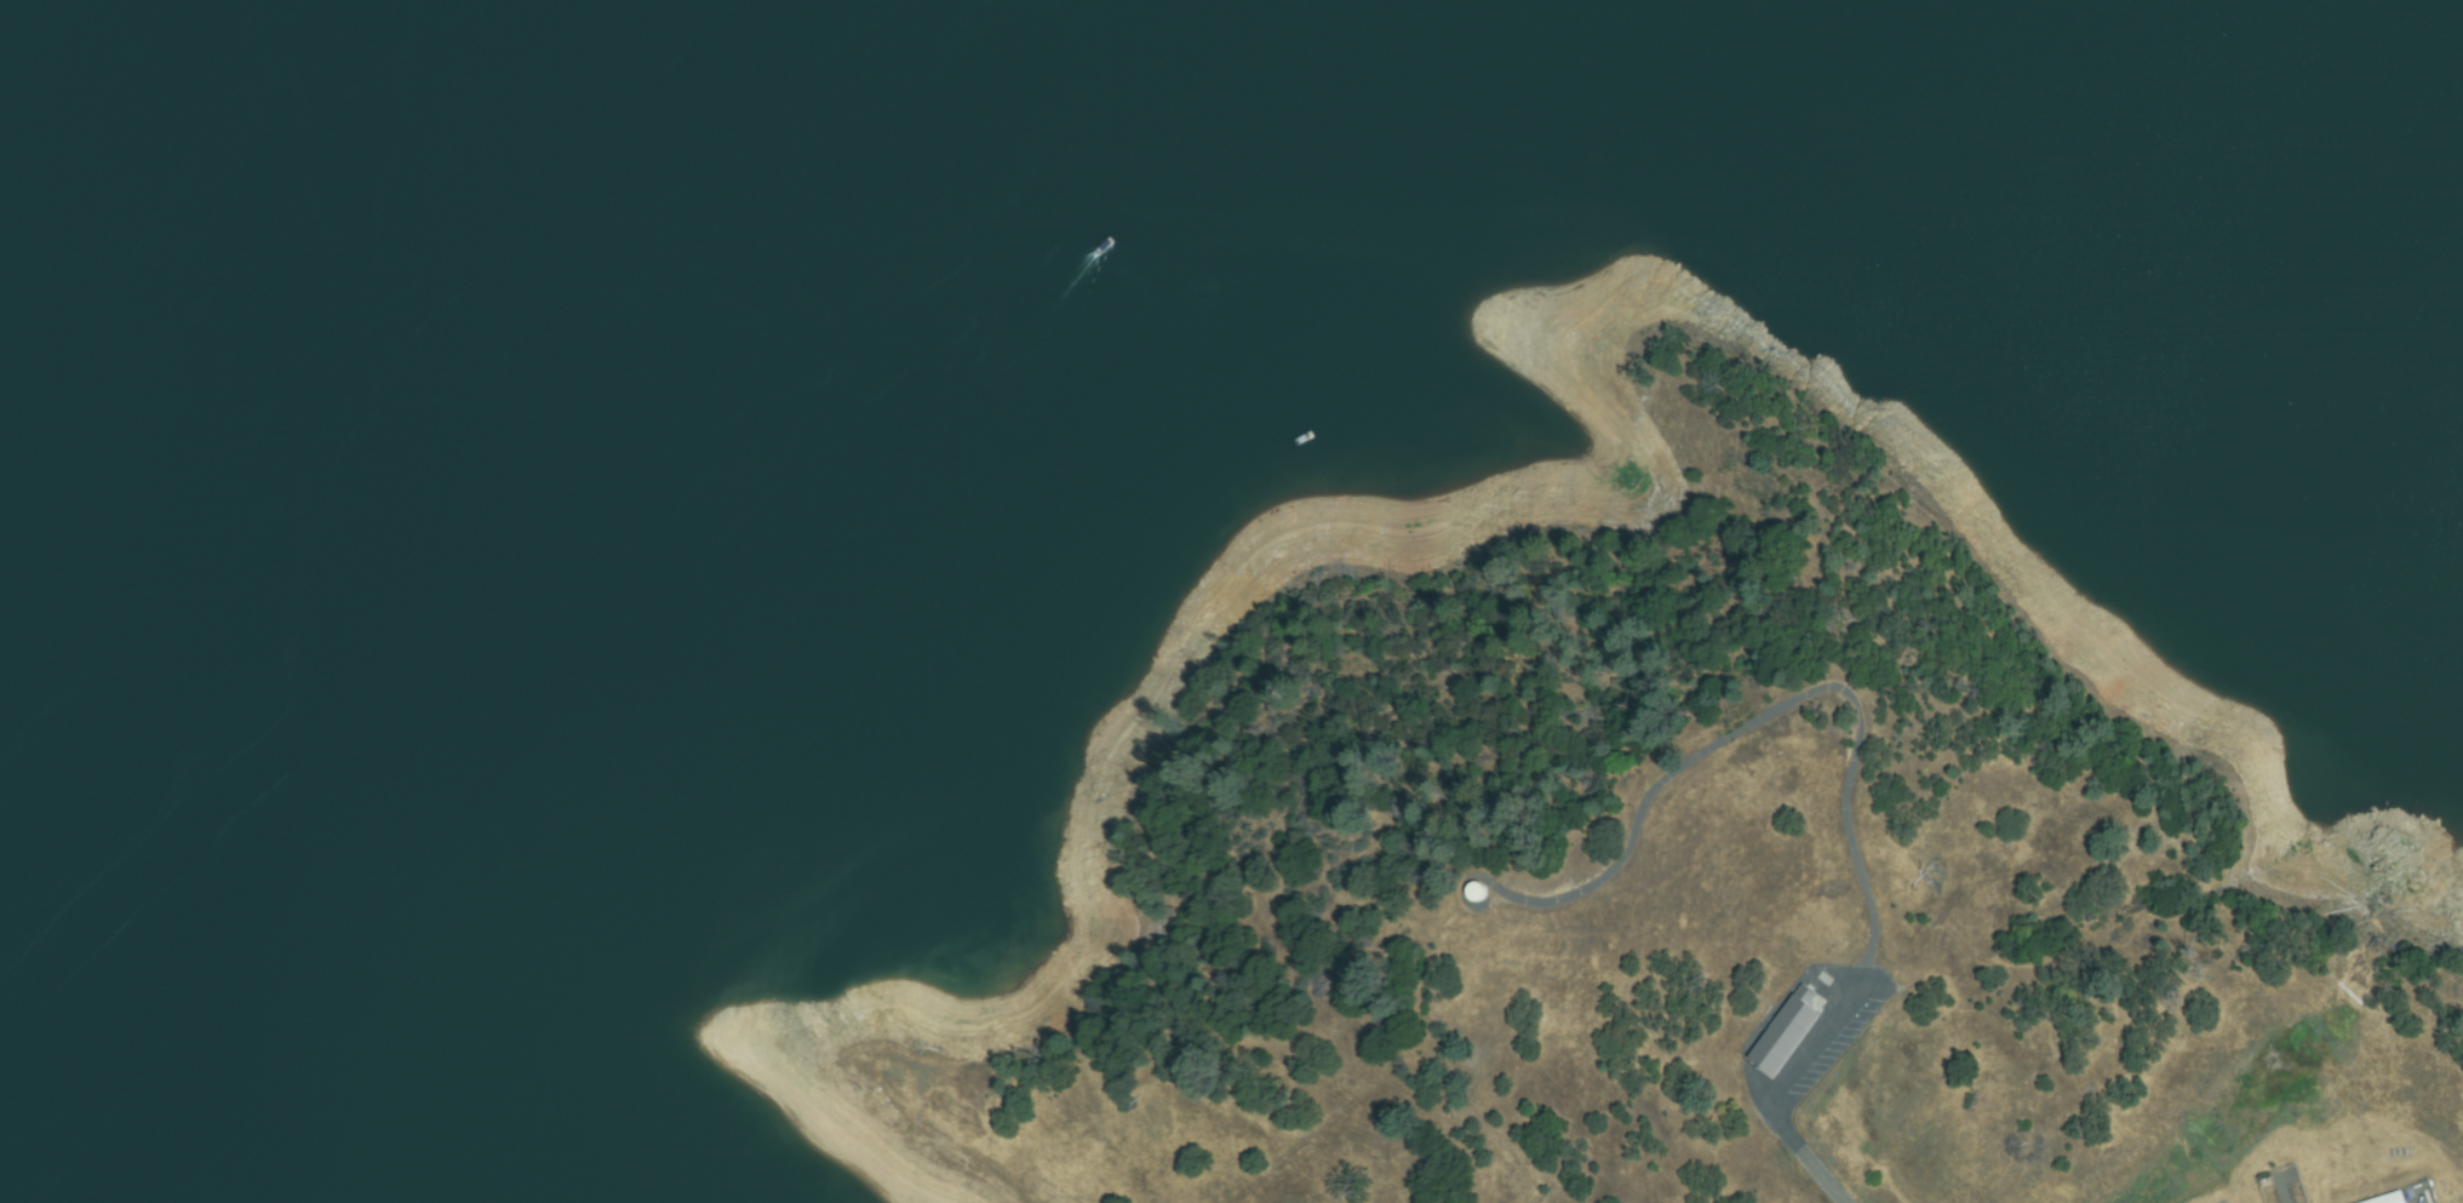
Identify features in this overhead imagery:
road: (1865, 757)
storage tank: (1476, 892)
building: (1789, 1031)
building: (2390, 1199)

